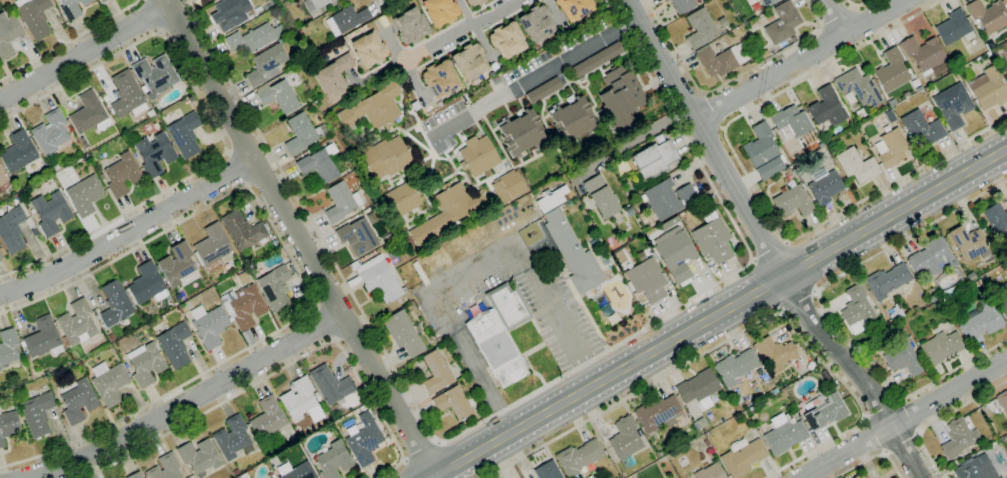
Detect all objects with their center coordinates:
building: (1006, 0)
building: (102, 1)
building: (750, 1)
building: (473, 2)
building: (766, 3)
building: (315, 4)
building: (681, 5)
road: (858, 6)
building: (72, 8)
building: (573, 8)
building: (438, 11)
building: (229, 13)
road: (554, 14)
building: (988, 15)
building: (33, 16)
road: (152, 16)
road: (835, 16)
road: (835, 18)
building: (346, 20)
building: (753, 20)
building: (535, 23)
building: (782, 23)
building: (410, 25)
building: (954, 27)
road: (461, 28)
building: (700, 28)
road: (475, 32)
building: (299, 34)
building: (9, 35)
building: (254, 38)
building: (793, 38)
road: (68, 40)
building: (283, 40)
building: (506, 40)
building: (367, 49)
road: (84, 53)
building: (923, 53)
building: (763, 54)
building: (596, 59)
building: (721, 59)
road: (801, 60)
building: (469, 61)
road: (402, 62)
building: (265, 65)
building: (1005, 69)
building: (891, 71)
road: (376, 72)
road: (78, 74)
building: (963, 74)
building: (156, 77)
road: (537, 77)
building: (332, 78)
building: (439, 78)
road: (727, 82)
building: (858, 87)
building: (918, 89)
building: (987, 89)
building: (543, 90)
building: (127, 95)
building: (906, 95)
building: (278, 96)
building: (621, 97)
building: (310, 99)
building: (891, 103)
building: (952, 105)
building: (826, 107)
building: (373, 108)
road: (713, 111)
building: (150, 113)
building: (89, 114)
building: (572, 120)
building: (791, 121)
building: (155, 125)
building: (921, 128)
building: (520, 132)
building: (51, 133)
building: (302, 133)
building: (185, 134)
road: (635, 137)
building: (83, 142)
building: (820, 145)
building: (891, 148)
building: (18, 152)
building: (763, 152)
building: (154, 153)
building: (478, 156)
building: (386, 158)
building: (652, 160)
building: (319, 164)
building: (856, 165)
building: (56, 166)
road: (236, 169)
building: (122, 174)
building: (3, 182)
road: (174, 184)
building: (507, 186)
road: (752, 186)
building: (824, 188)
building: (84, 195)
building: (601, 196)
building: (667, 198)
building: (403, 199)
building: (550, 199)
building: (792, 200)
building: (340, 202)
building: (50, 212)
building: (629, 212)
building: (448, 213)
building: (354, 217)
building: (996, 220)
building: (668, 222)
building: (11, 229)
building: (982, 229)
road: (128, 231)
building: (243, 231)
building: (356, 237)
road: (297, 239)
building: (712, 239)
building: (968, 243)
road: (765, 244)
building: (212, 245)
road: (769, 250)
building: (1, 253)
building: (573, 254)
building: (676, 255)
building: (655, 258)
building: (931, 258)
building: (178, 266)
building: (291, 269)
building: (420, 273)
building: (970, 276)
road: (468, 277)
building: (377, 278)
road: (302, 279)
building: (647, 280)
building: (886, 281)
building: (977, 283)
building: (147, 284)
building: (274, 287)
building: (951, 289)
building: (932, 298)
building: (1002, 298)
road: (800, 302)
building: (115, 303)
building: (243, 306)
building: (858, 306)
road: (824, 310)
road: (719, 314)
building: (980, 321)
building: (76, 323)
road: (324, 323)
building: (889, 323)
building: (209, 325)
road: (563, 325)
road: (741, 331)
building: (403, 333)
building: (500, 333)
building: (111, 337)
building: (42, 339)
building: (174, 345)
building: (8, 346)
building: (941, 347)
building: (918, 352)
building: (775, 353)
building: (902, 357)
building: (145, 363)
building: (0, 367)
road: (280, 367)
building: (735, 367)
building: (345, 371)
building: (436, 373)
building: (824, 373)
road: (486, 381)
building: (109, 382)
building: (698, 388)
building: (332, 389)
building: (316, 395)
building: (1002, 400)
building: (77, 401)
building: (300, 401)
building: (57, 402)
road: (184, 402)
building: (452, 402)
road: (507, 408)
road: (882, 408)
building: (824, 411)
building: (658, 413)
building: (37, 414)
road: (911, 417)
building: (267, 418)
road: (903, 418)
road: (941, 418)
building: (8, 426)
building: (707, 434)
building: (783, 434)
road: (873, 435)
building: (655, 436)
building: (233, 438)
building: (957, 438)
building: (364, 440)
building: (625, 441)
building: (705, 443)
road: (901, 444)
road: (419, 452)
building: (267, 453)
building: (658, 454)
building: (742, 456)
building: (199, 457)
building: (578, 457)
road: (872, 457)
building: (333, 460)
building: (165, 468)
building: (975, 468)
building: (546, 470)
building: (299, 471)
building: (234, 472)
building: (709, 472)
building: (135, 475)
building: (270, 475)
building: (243, 476)
building: (858, 476)
building: (590, 477)
building: (999, 477)

